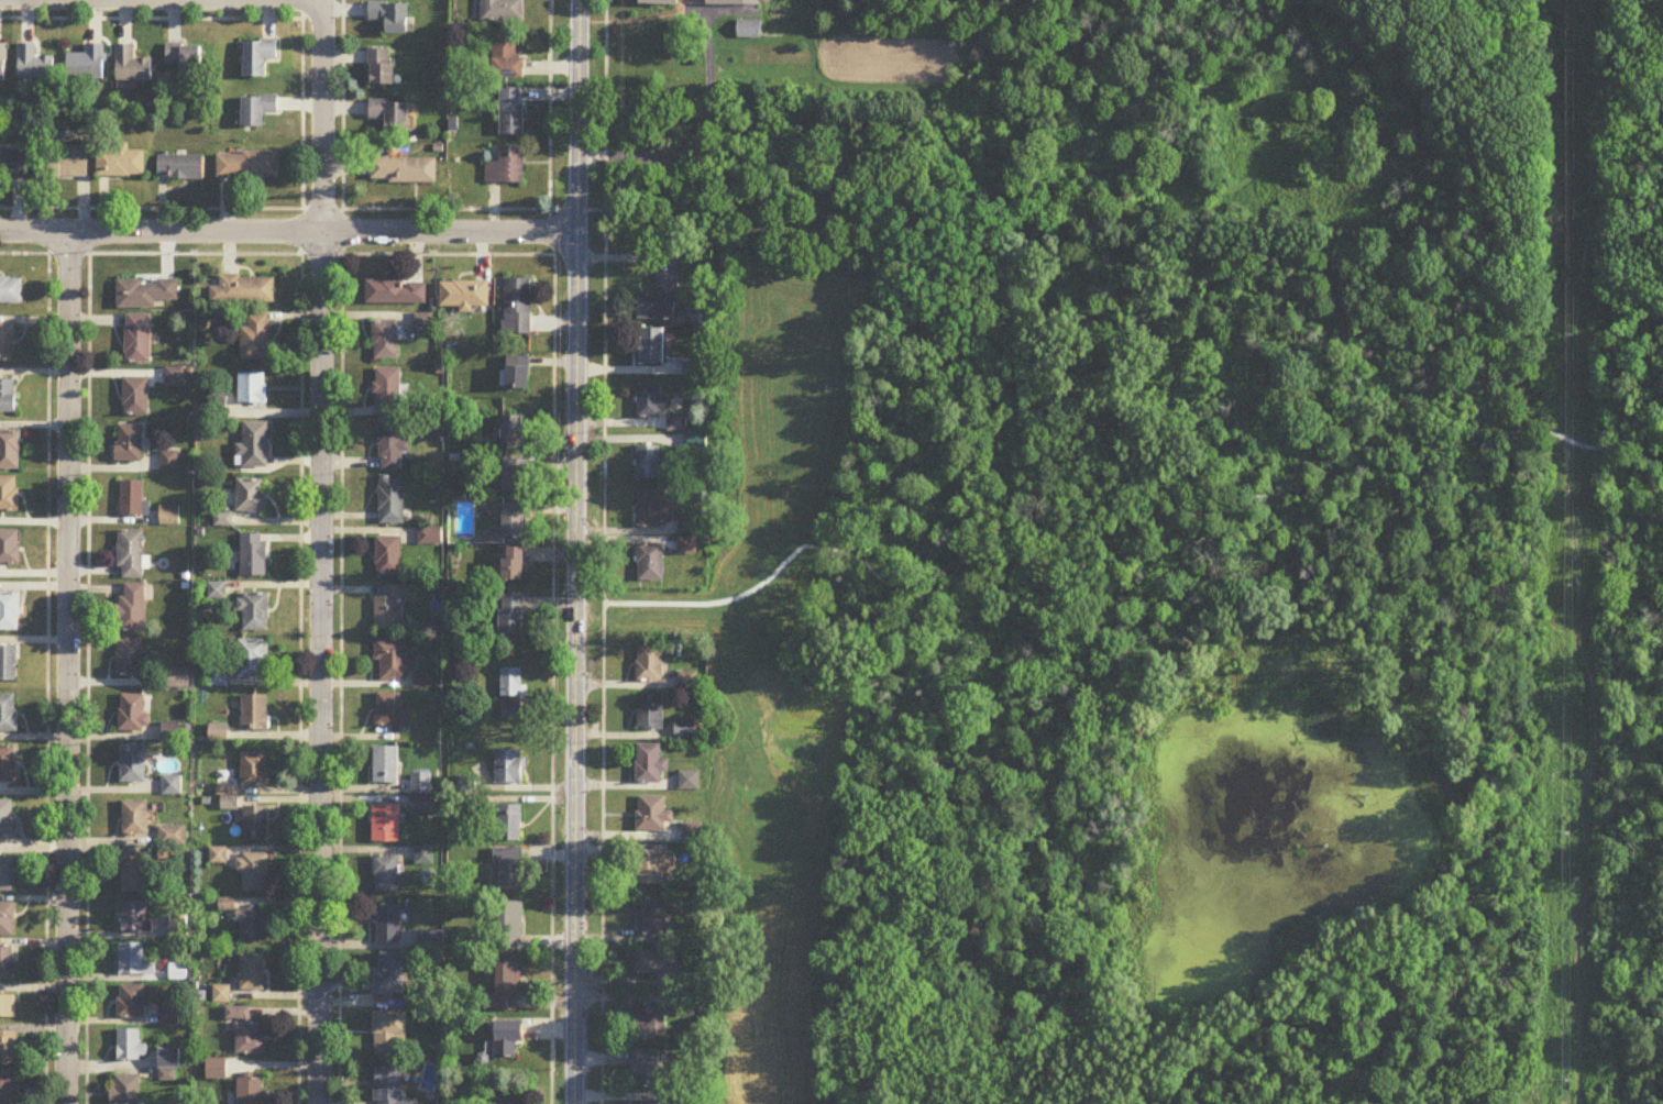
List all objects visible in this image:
building: (661, 3)
building: (738, 3)
building: (502, 11)
road: (151, 18)
building: (392, 19)
building: (748, 31)
building: (186, 58)
building: (260, 58)
building: (506, 58)
building: (3, 66)
building: (88, 66)
building: (35, 67)
building: (132, 69)
building: (382, 69)
road: (301, 104)
road: (342, 104)
building: (258, 111)
building: (511, 113)
road: (321, 115)
building: (390, 115)
road: (691, 139)
building: (65, 164)
building: (121, 164)
building: (11, 165)
building: (180, 168)
building: (247, 168)
building: (506, 168)
building: (404, 172)
road: (274, 209)
road: (288, 232)
road: (276, 249)
building: (244, 290)
building: (11, 291)
building: (396, 291)
building: (146, 294)
building: (464, 295)
building: (661, 300)
building: (517, 306)
building: (423, 323)
building: (254, 339)
building: (137, 340)
building: (385, 340)
building: (7, 344)
building: (651, 346)
road: (296, 354)
road: (81, 356)
building: (692, 369)
building: (518, 373)
building: (252, 388)
building: (387, 393)
building: (8, 397)
building: (135, 397)
building: (651, 402)
building: (675, 423)
building: (513, 432)
building: (129, 444)
building: (254, 445)
building: (392, 446)
building: (696, 446)
building: (10, 451)
building: (648, 463)
building: (515, 476)
building: (9, 495)
building: (251, 496)
building: (131, 500)
building: (390, 500)
road: (1214, 501)
building: (650, 510)
building: (169, 517)
building: (515, 520)
building: (687, 527)
building: (687, 545)
building: (9, 548)
road: (552, 551)
road: (576, 551)
road: (603, 551)
building: (130, 555)
building: (387, 555)
building: (253, 556)
building: (650, 563)
building: (515, 564)
road: (712, 603)
building: (393, 607)
building: (131, 610)
building: (9, 611)
building: (254, 612)
building: (513, 615)
road: (1099, 644)
park: (1193, 648)
building: (129, 658)
building: (252, 660)
building: (393, 660)
building: (649, 663)
building: (8, 664)
road: (1587, 666)
road: (68, 667)
road: (322, 667)
road: (44, 675)
road: (340, 677)
building: (687, 681)
building: (511, 682)
building: (511, 710)
building: (255, 713)
building: (390, 713)
building: (650, 713)
building: (8, 714)
building: (132, 714)
road: (1133, 722)
building: (685, 729)
building: (173, 733)
building: (8, 764)
building: (650, 764)
building: (132, 765)
building: (385, 766)
building: (509, 768)
building: (254, 771)
building: (689, 781)
road: (298, 782)
road: (85, 783)
building: (420, 785)
building: (170, 786)
building: (229, 804)
building: (652, 815)
building: (7, 819)
building: (134, 819)
building: (255, 824)
building: (510, 824)
building: (385, 825)
building: (691, 833)
building: (170, 837)
building: (652, 868)
building: (509, 870)
building: (254, 872)
building: (7, 875)
building: (134, 875)
building: (385, 875)
building: (651, 918)
building: (133, 919)
building: (7, 920)
building: (387, 925)
building: (251, 927)
building: (510, 927)
building: (134, 962)
building: (5, 963)
building: (660, 968)
building: (177, 973)
building: (252, 973)
building: (388, 974)
building: (508, 987)
building: (130, 1002)
building: (8, 1007)
building: (168, 1015)
building: (646, 1023)
building: (246, 1033)
building: (389, 1034)
building: (507, 1039)
building: (130, 1046)
building: (8, 1049)
building: (169, 1059)
building: (216, 1070)
building: (646, 1070)
building: (388, 1085)
building: (8, 1088)
building: (124, 1090)
building: (251, 1092)
building: (511, 1099)
building: (649, 1103)

